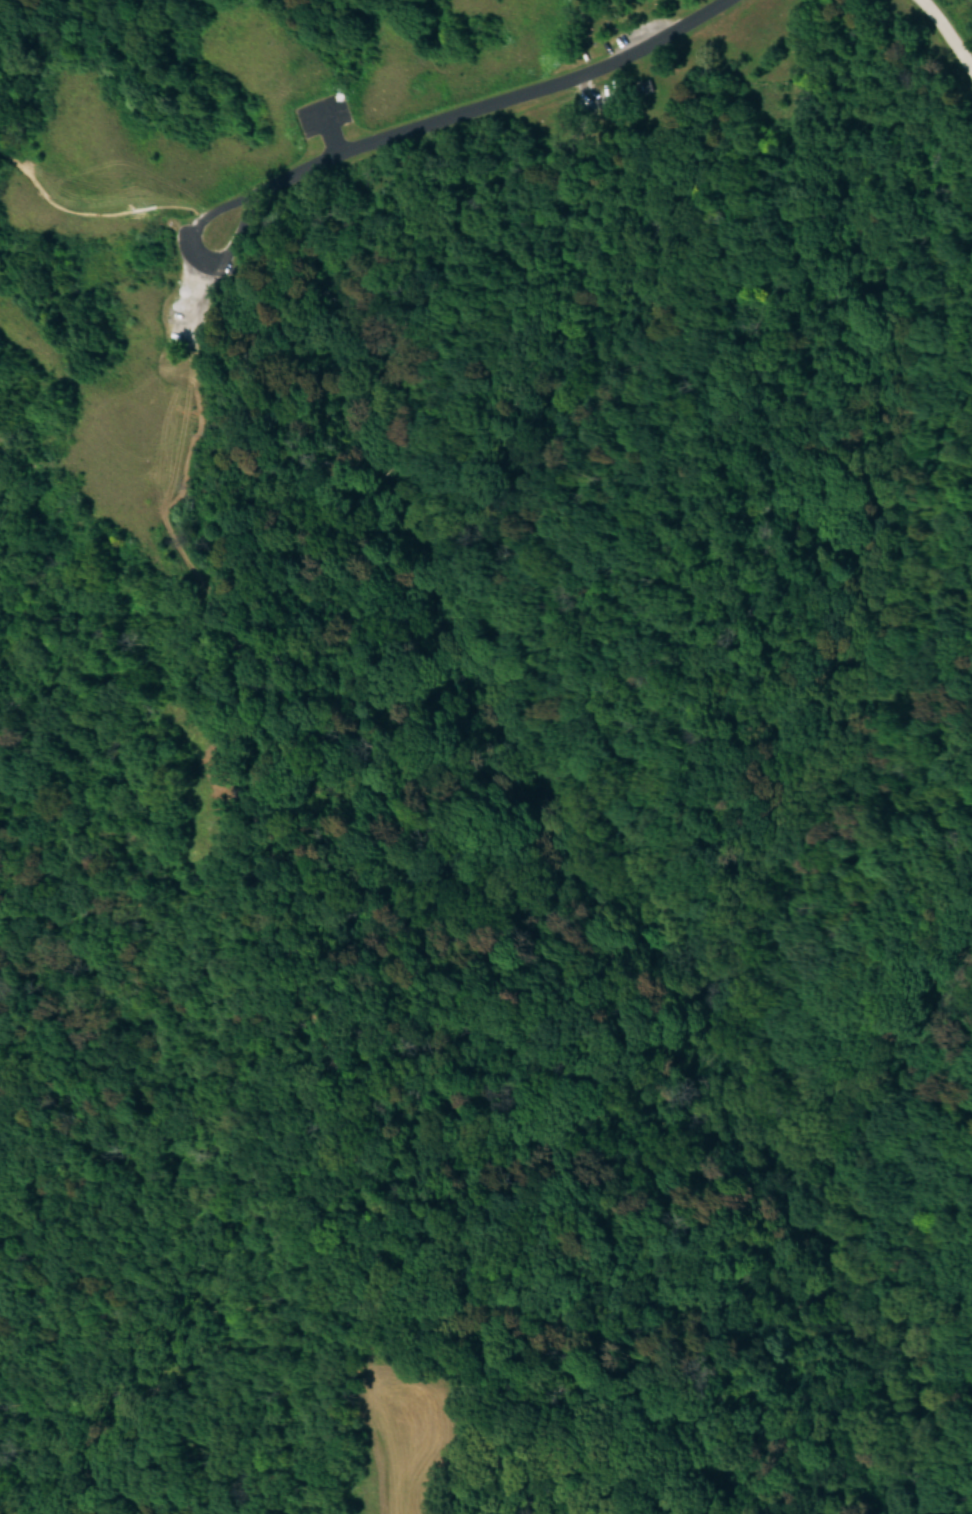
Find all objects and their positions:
road: (945, 32)
building: (647, 84)
road: (461, 111)
road: (332, 130)
road: (94, 211)
road: (221, 257)

